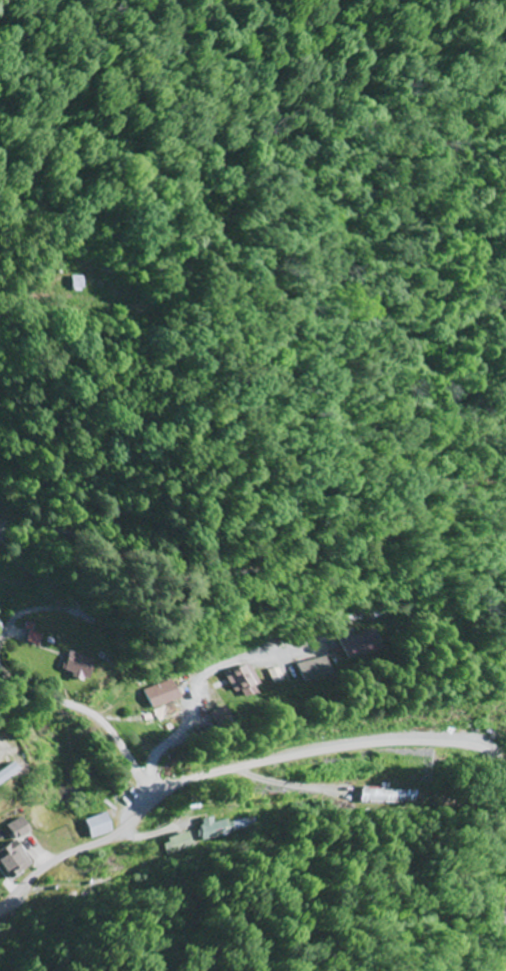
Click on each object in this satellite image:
building: (33, 638)
building: (359, 643)
building: (76, 666)
building: (313, 670)
building: (243, 679)
building: (163, 695)
road: (196, 696)
road: (240, 767)
building: (5, 771)
building: (91, 827)
building: (13, 829)
building: (9, 861)

